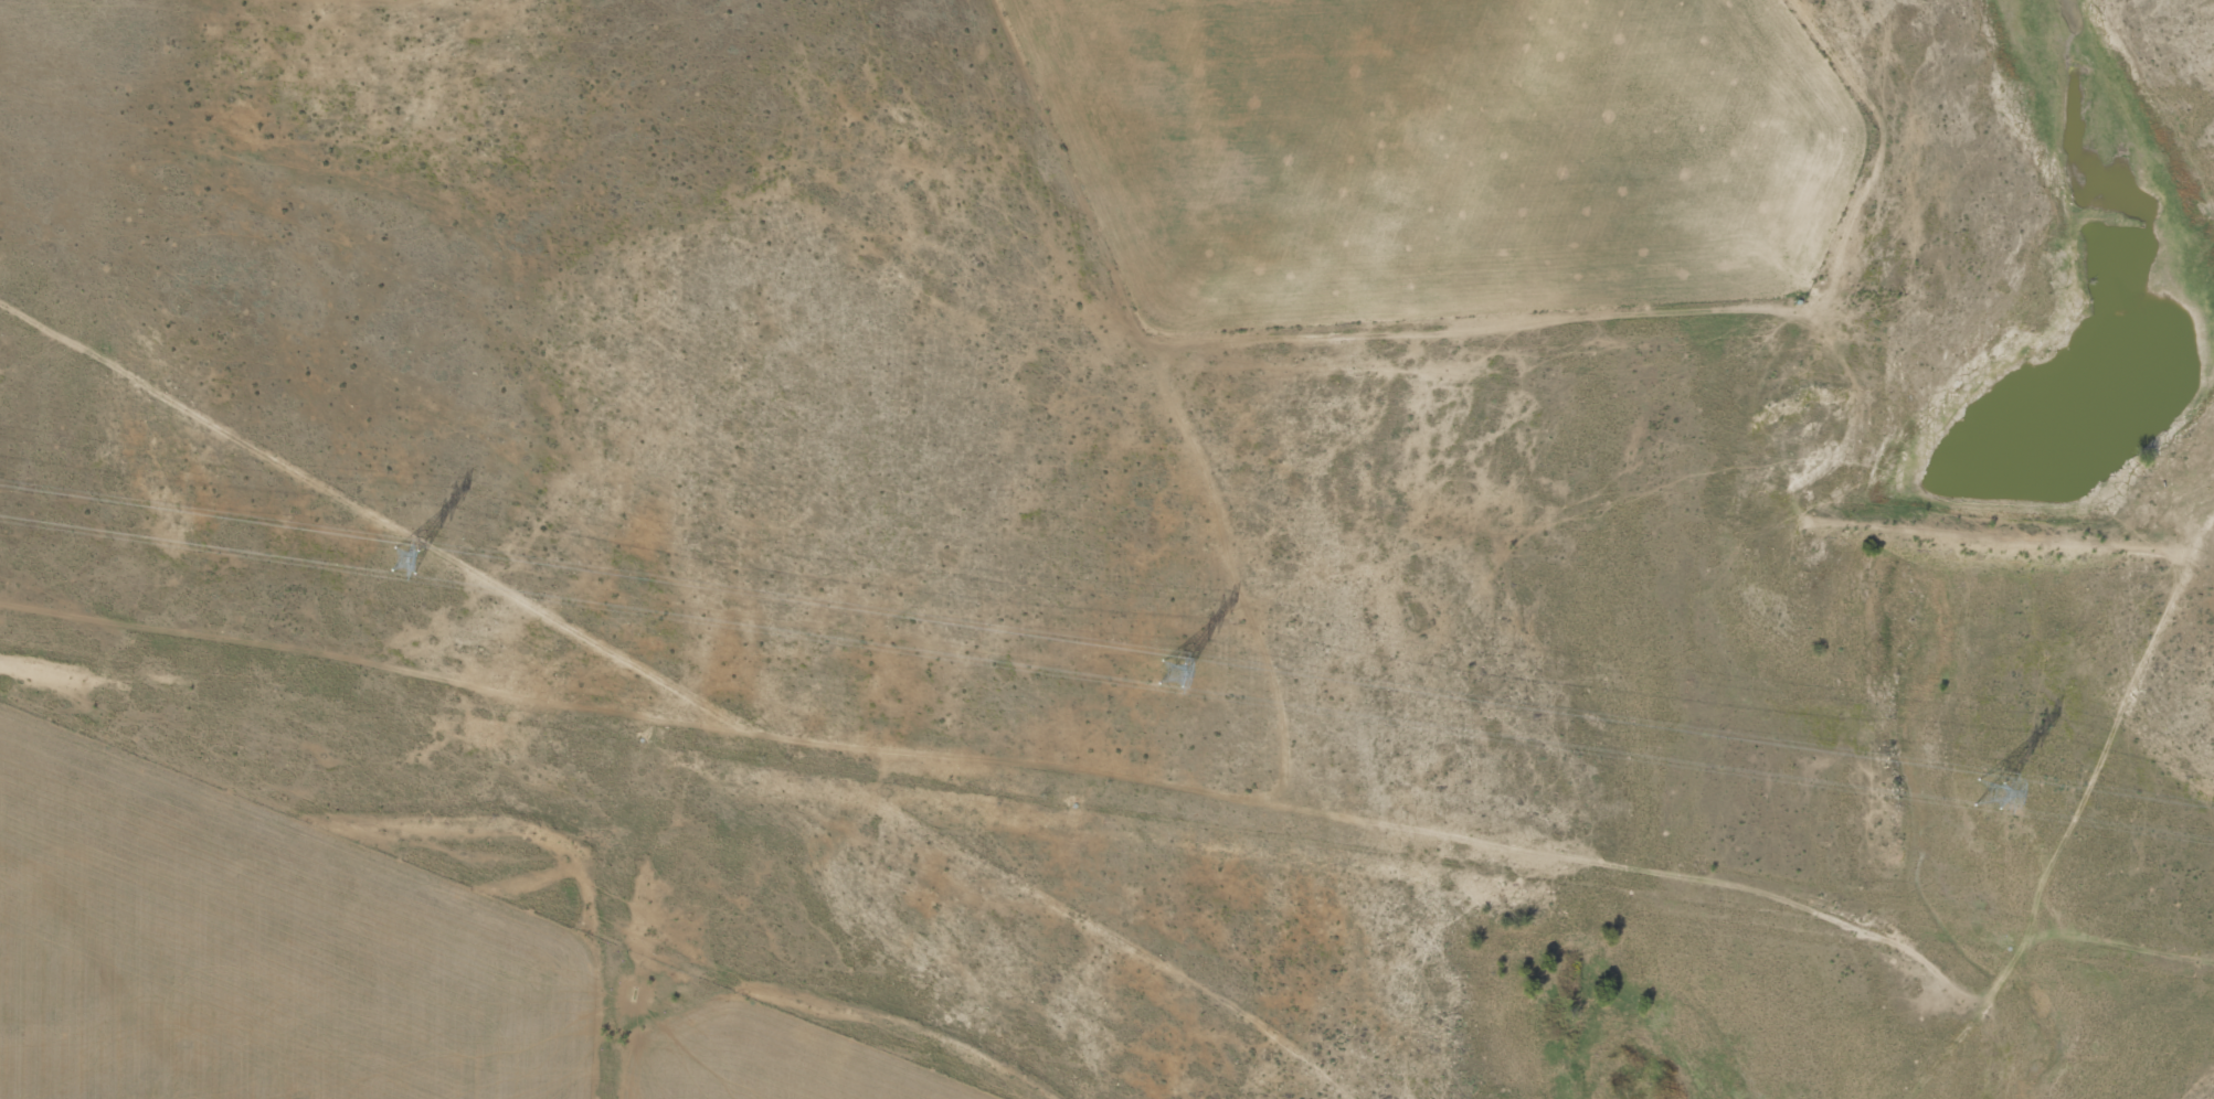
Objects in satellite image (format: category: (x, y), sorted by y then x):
power tower: (402, 561)
power tower: (1170, 673)
power tower: (1987, 796)

